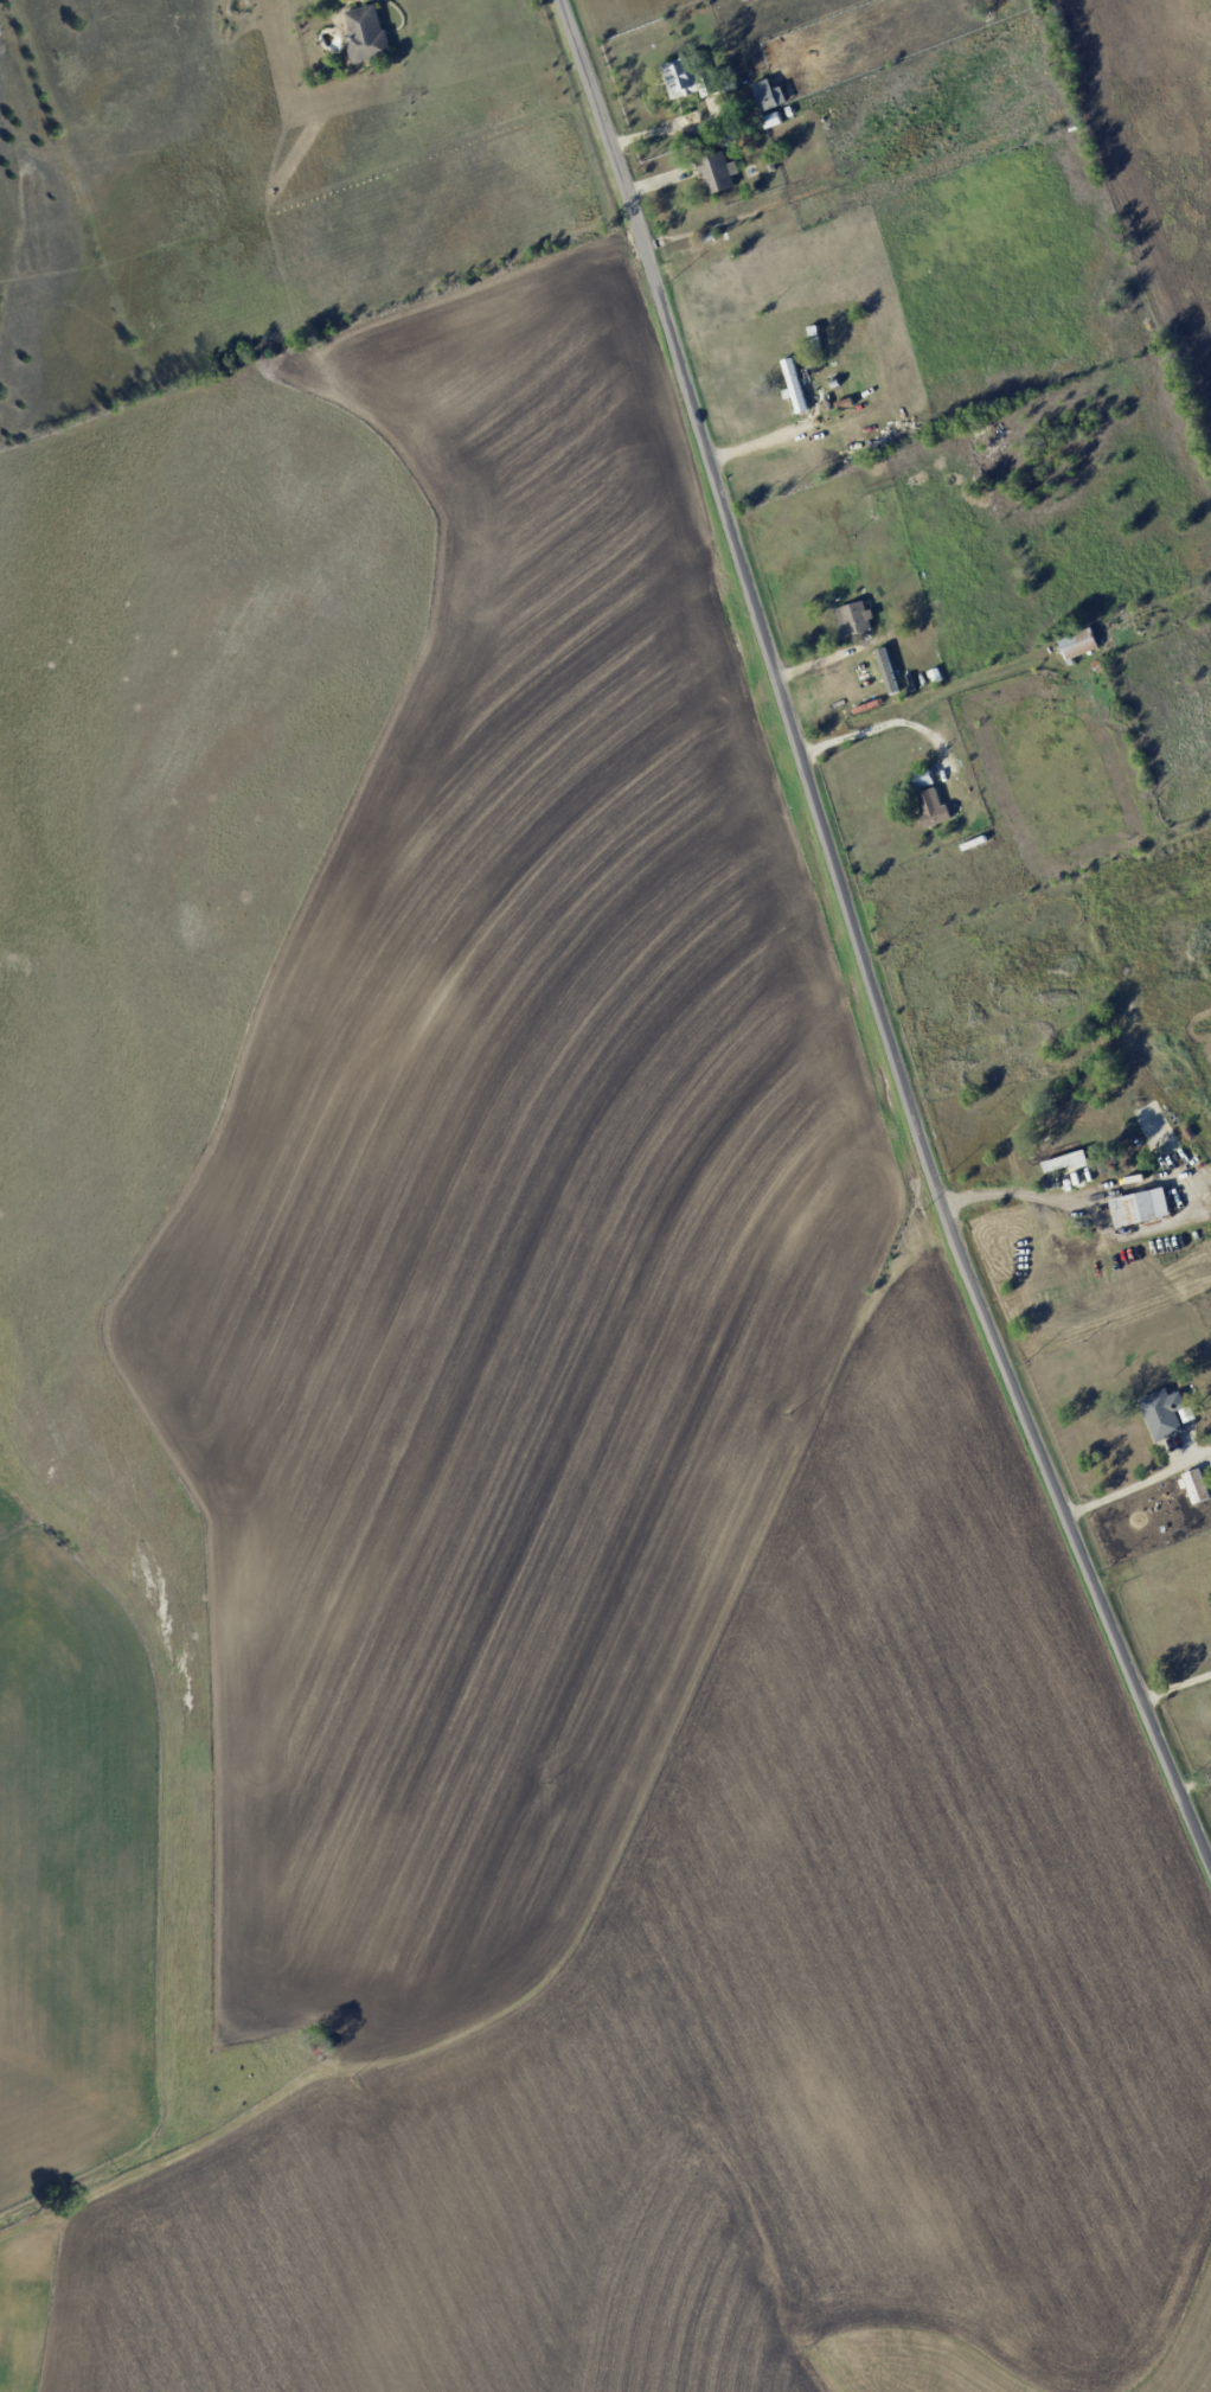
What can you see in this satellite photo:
building: (369, 36)
road: (671, 129)
building: (795, 384)
road: (762, 441)
building: (857, 616)
road: (878, 725)
building: (933, 807)
road: (854, 948)
building: (1143, 1207)
road: (1103, 1227)
building: (1167, 1411)
road: (1120, 1490)
road: (1174, 1687)

